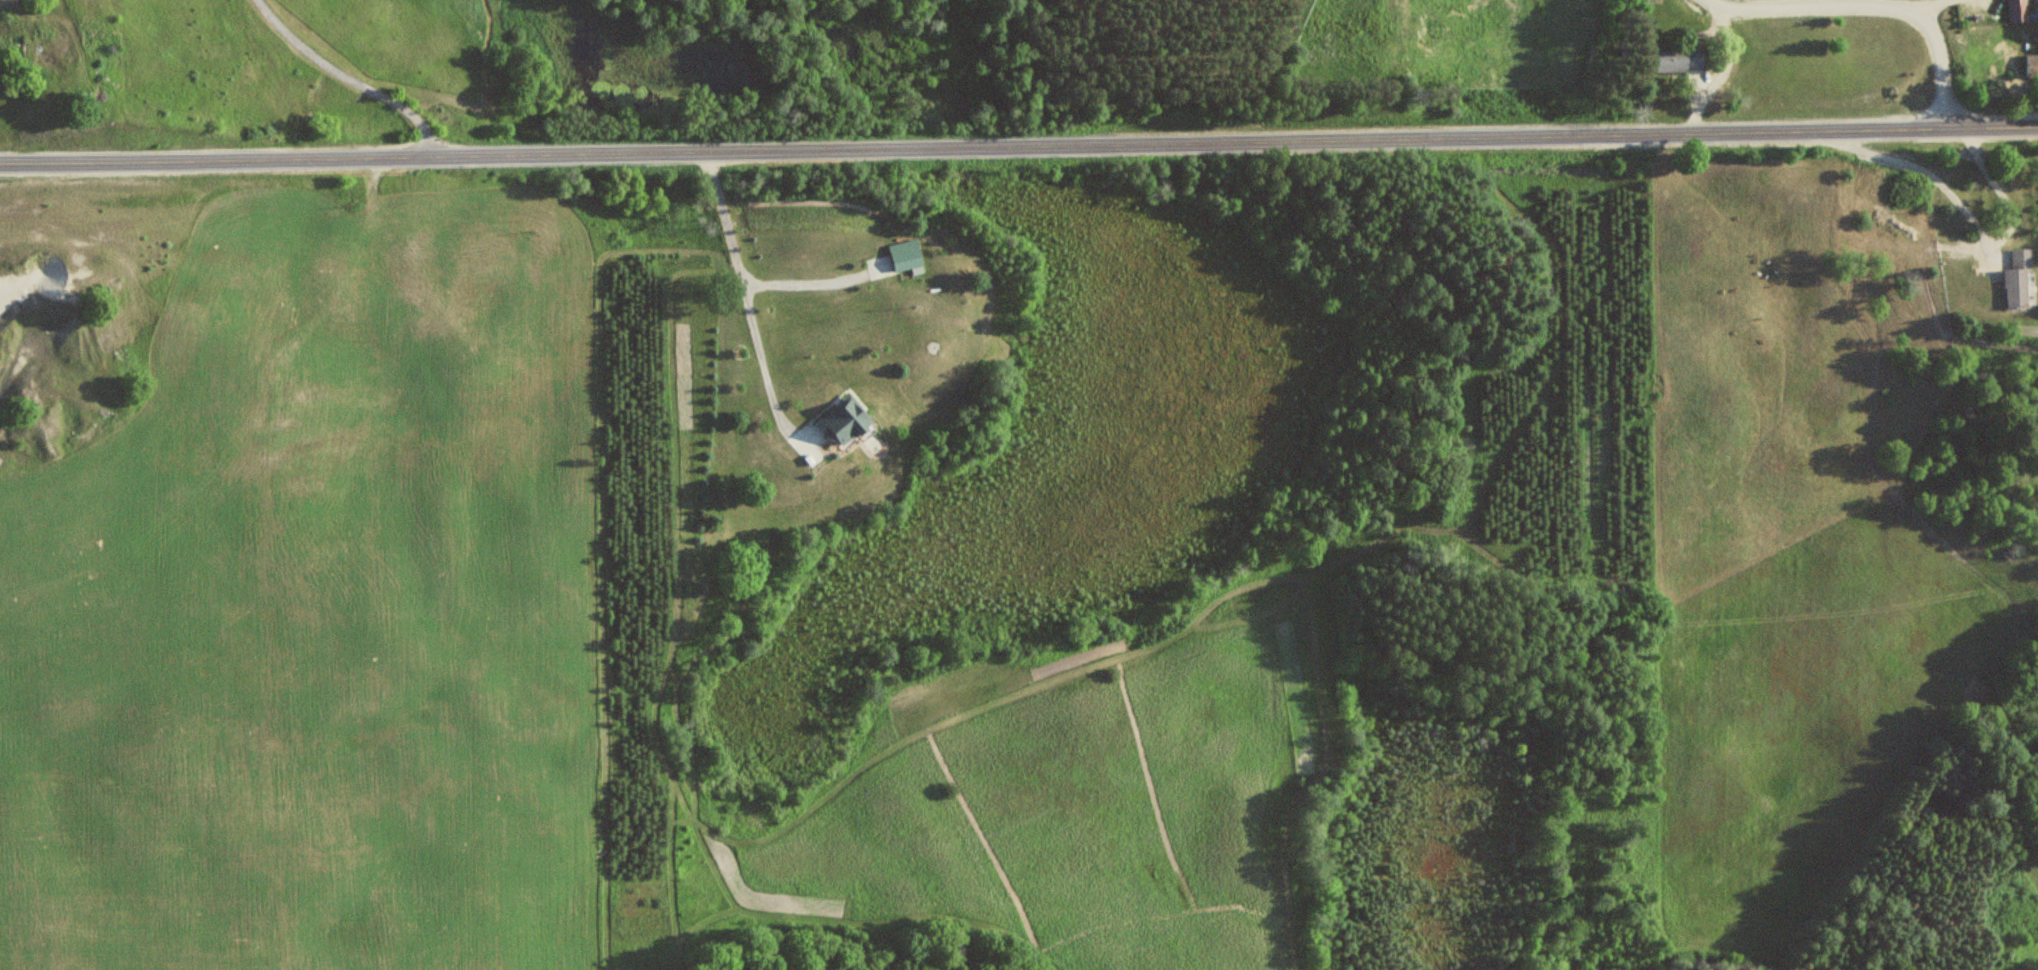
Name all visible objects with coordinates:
road: (1874, 3)
building: (2021, 8)
building: (1681, 60)
building: (2034, 65)
road: (352, 75)
road: (1019, 142)
building: (908, 255)
building: (2022, 279)
building: (846, 419)

